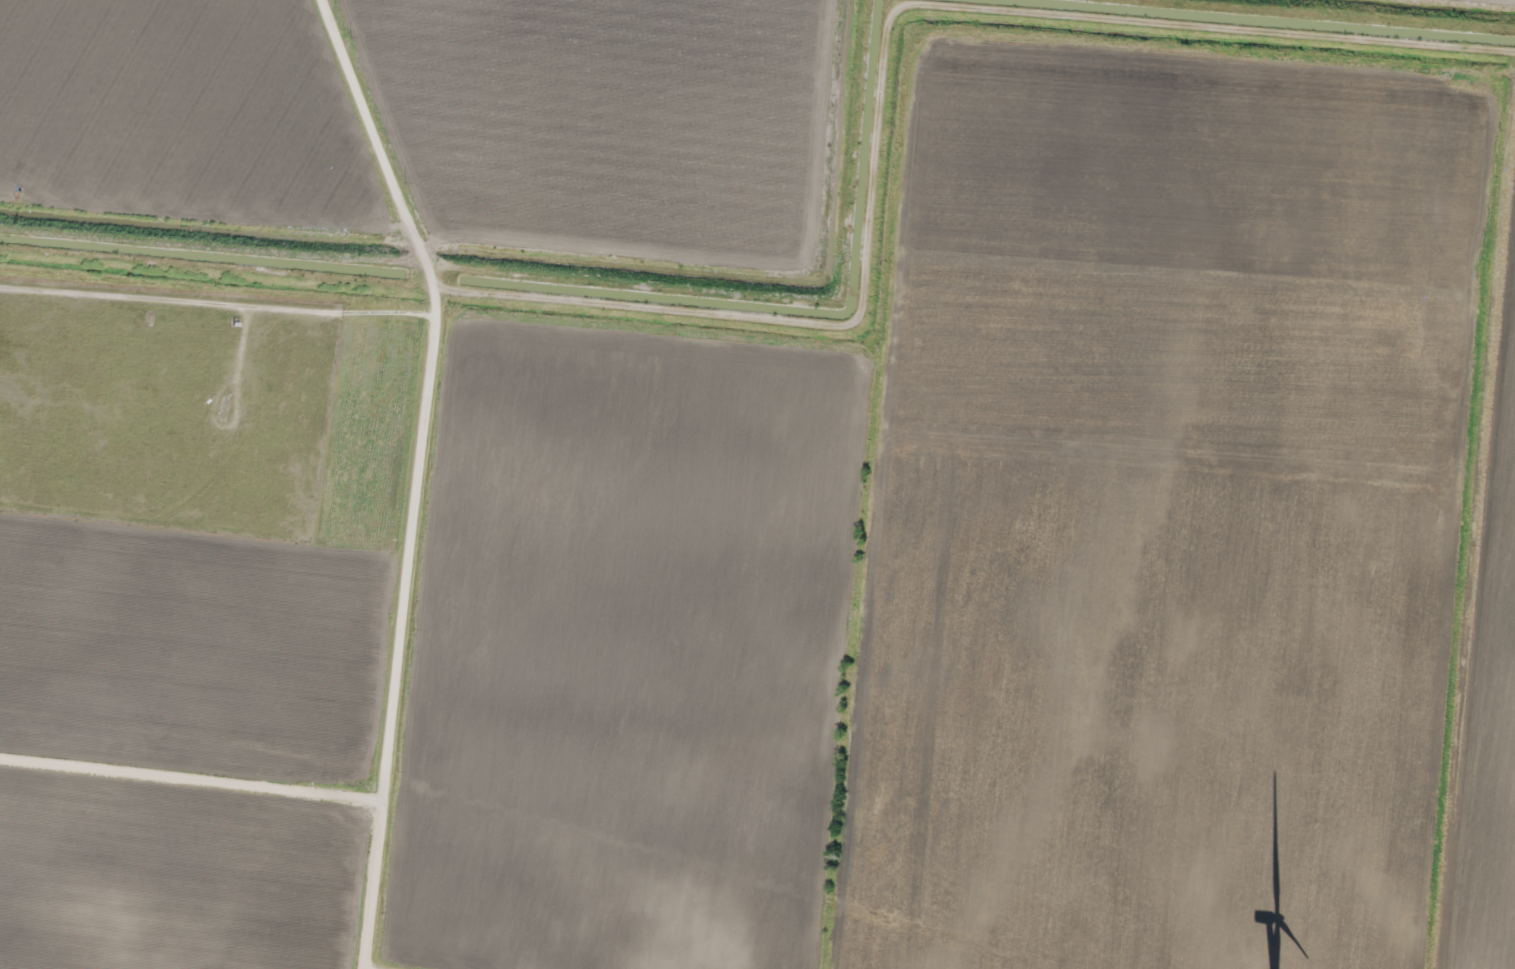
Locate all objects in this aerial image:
road: (419, 474)

